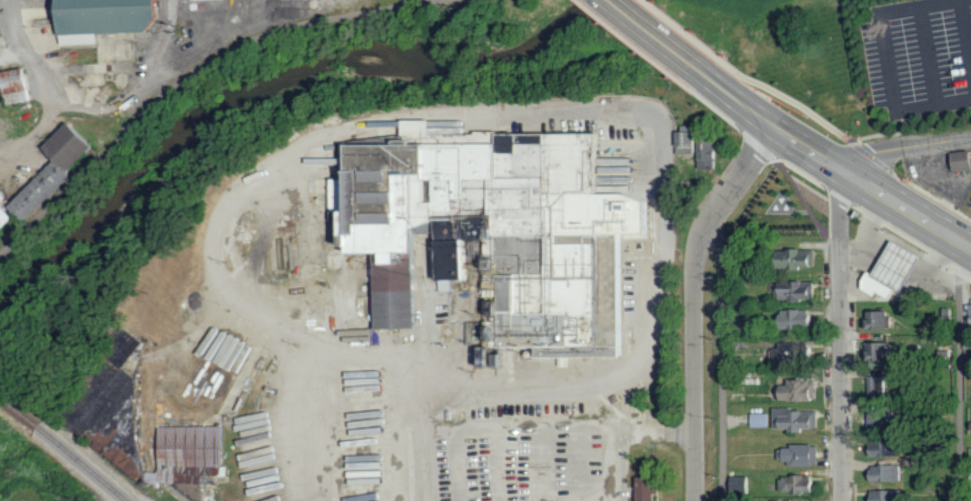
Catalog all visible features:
road: (406, 1)
road: (920, 6)
building: (2, 15)
building: (106, 15)
road: (681, 29)
road: (966, 32)
road: (656, 35)
road: (928, 56)
parking lot: (918, 57)
road: (889, 62)
road: (180, 80)
building: (15, 85)
road: (47, 88)
river: (253, 93)
road: (518, 105)
road: (934, 105)
road: (844, 135)
road: (905, 147)
building: (700, 149)
building: (962, 160)
road: (831, 163)
building: (51, 171)
building: (4, 216)
building: (495, 234)
building: (803, 259)
building: (895, 268)
gas station: (895, 268)
building: (801, 291)
road: (693, 301)
building: (800, 319)
building: (880, 320)
road: (840, 337)
building: (880, 351)
building: (795, 352)
road: (722, 360)
road: (959, 372)
building: (876, 385)
building: (801, 390)
railway: (18, 410)
building: (799, 419)
building: (762, 420)
building: (881, 421)
road: (621, 428)
road: (423, 440)
building: (890, 448)
building: (189, 453)
building: (801, 455)
railway: (78, 463)
building: (886, 473)
building: (798, 484)
building: (645, 488)
building: (889, 495)

